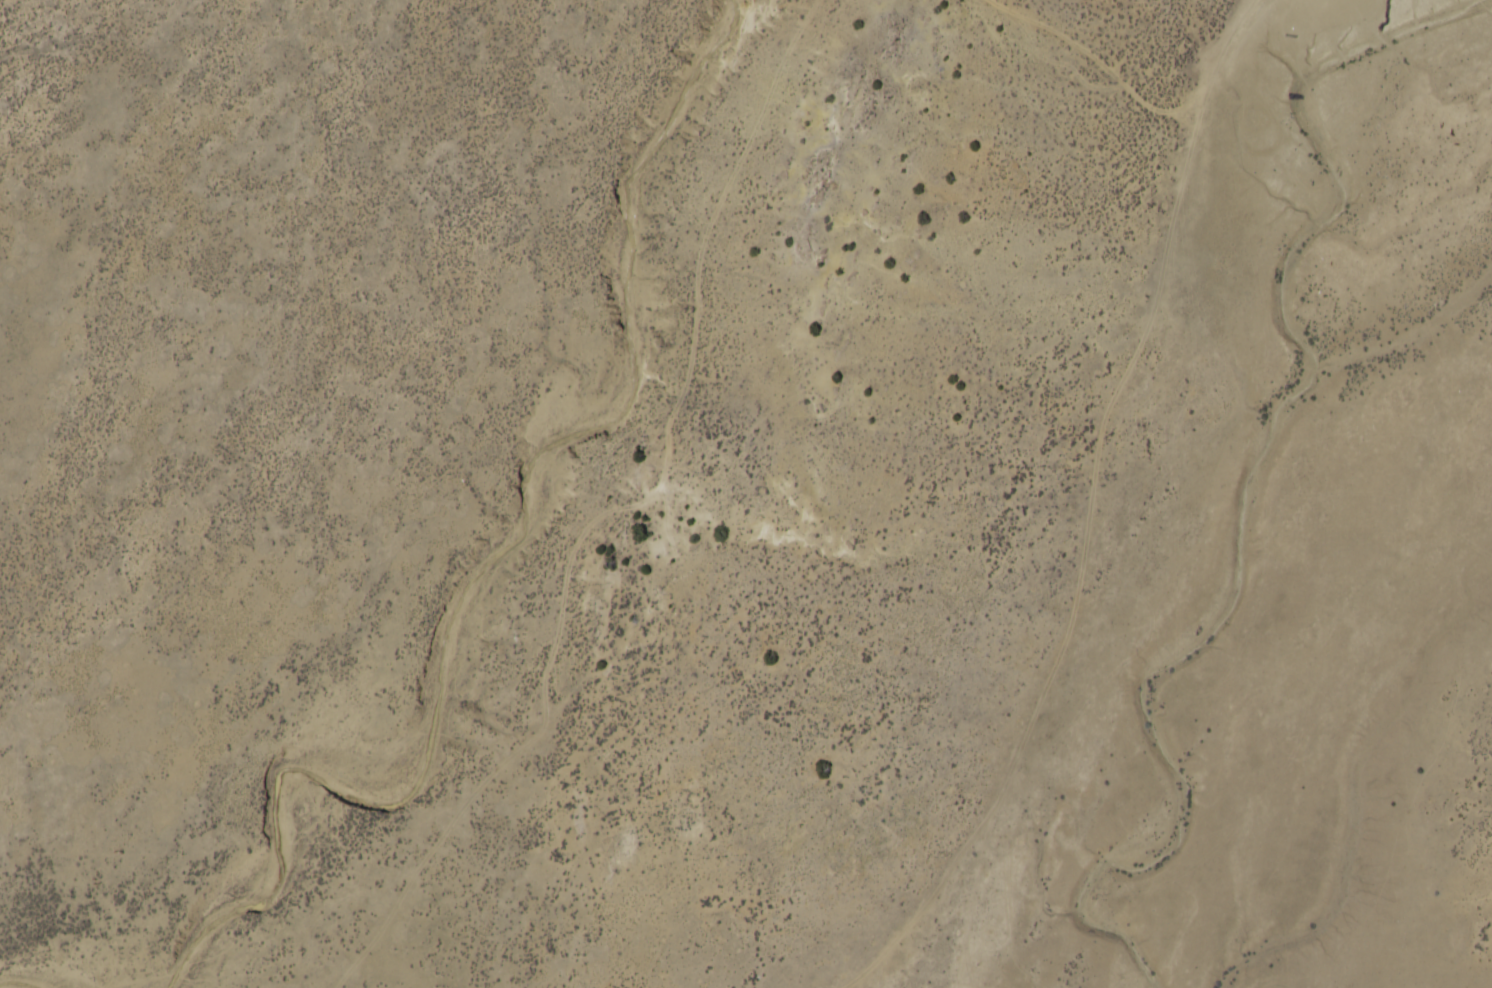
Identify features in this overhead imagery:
road: (1126, 78)

